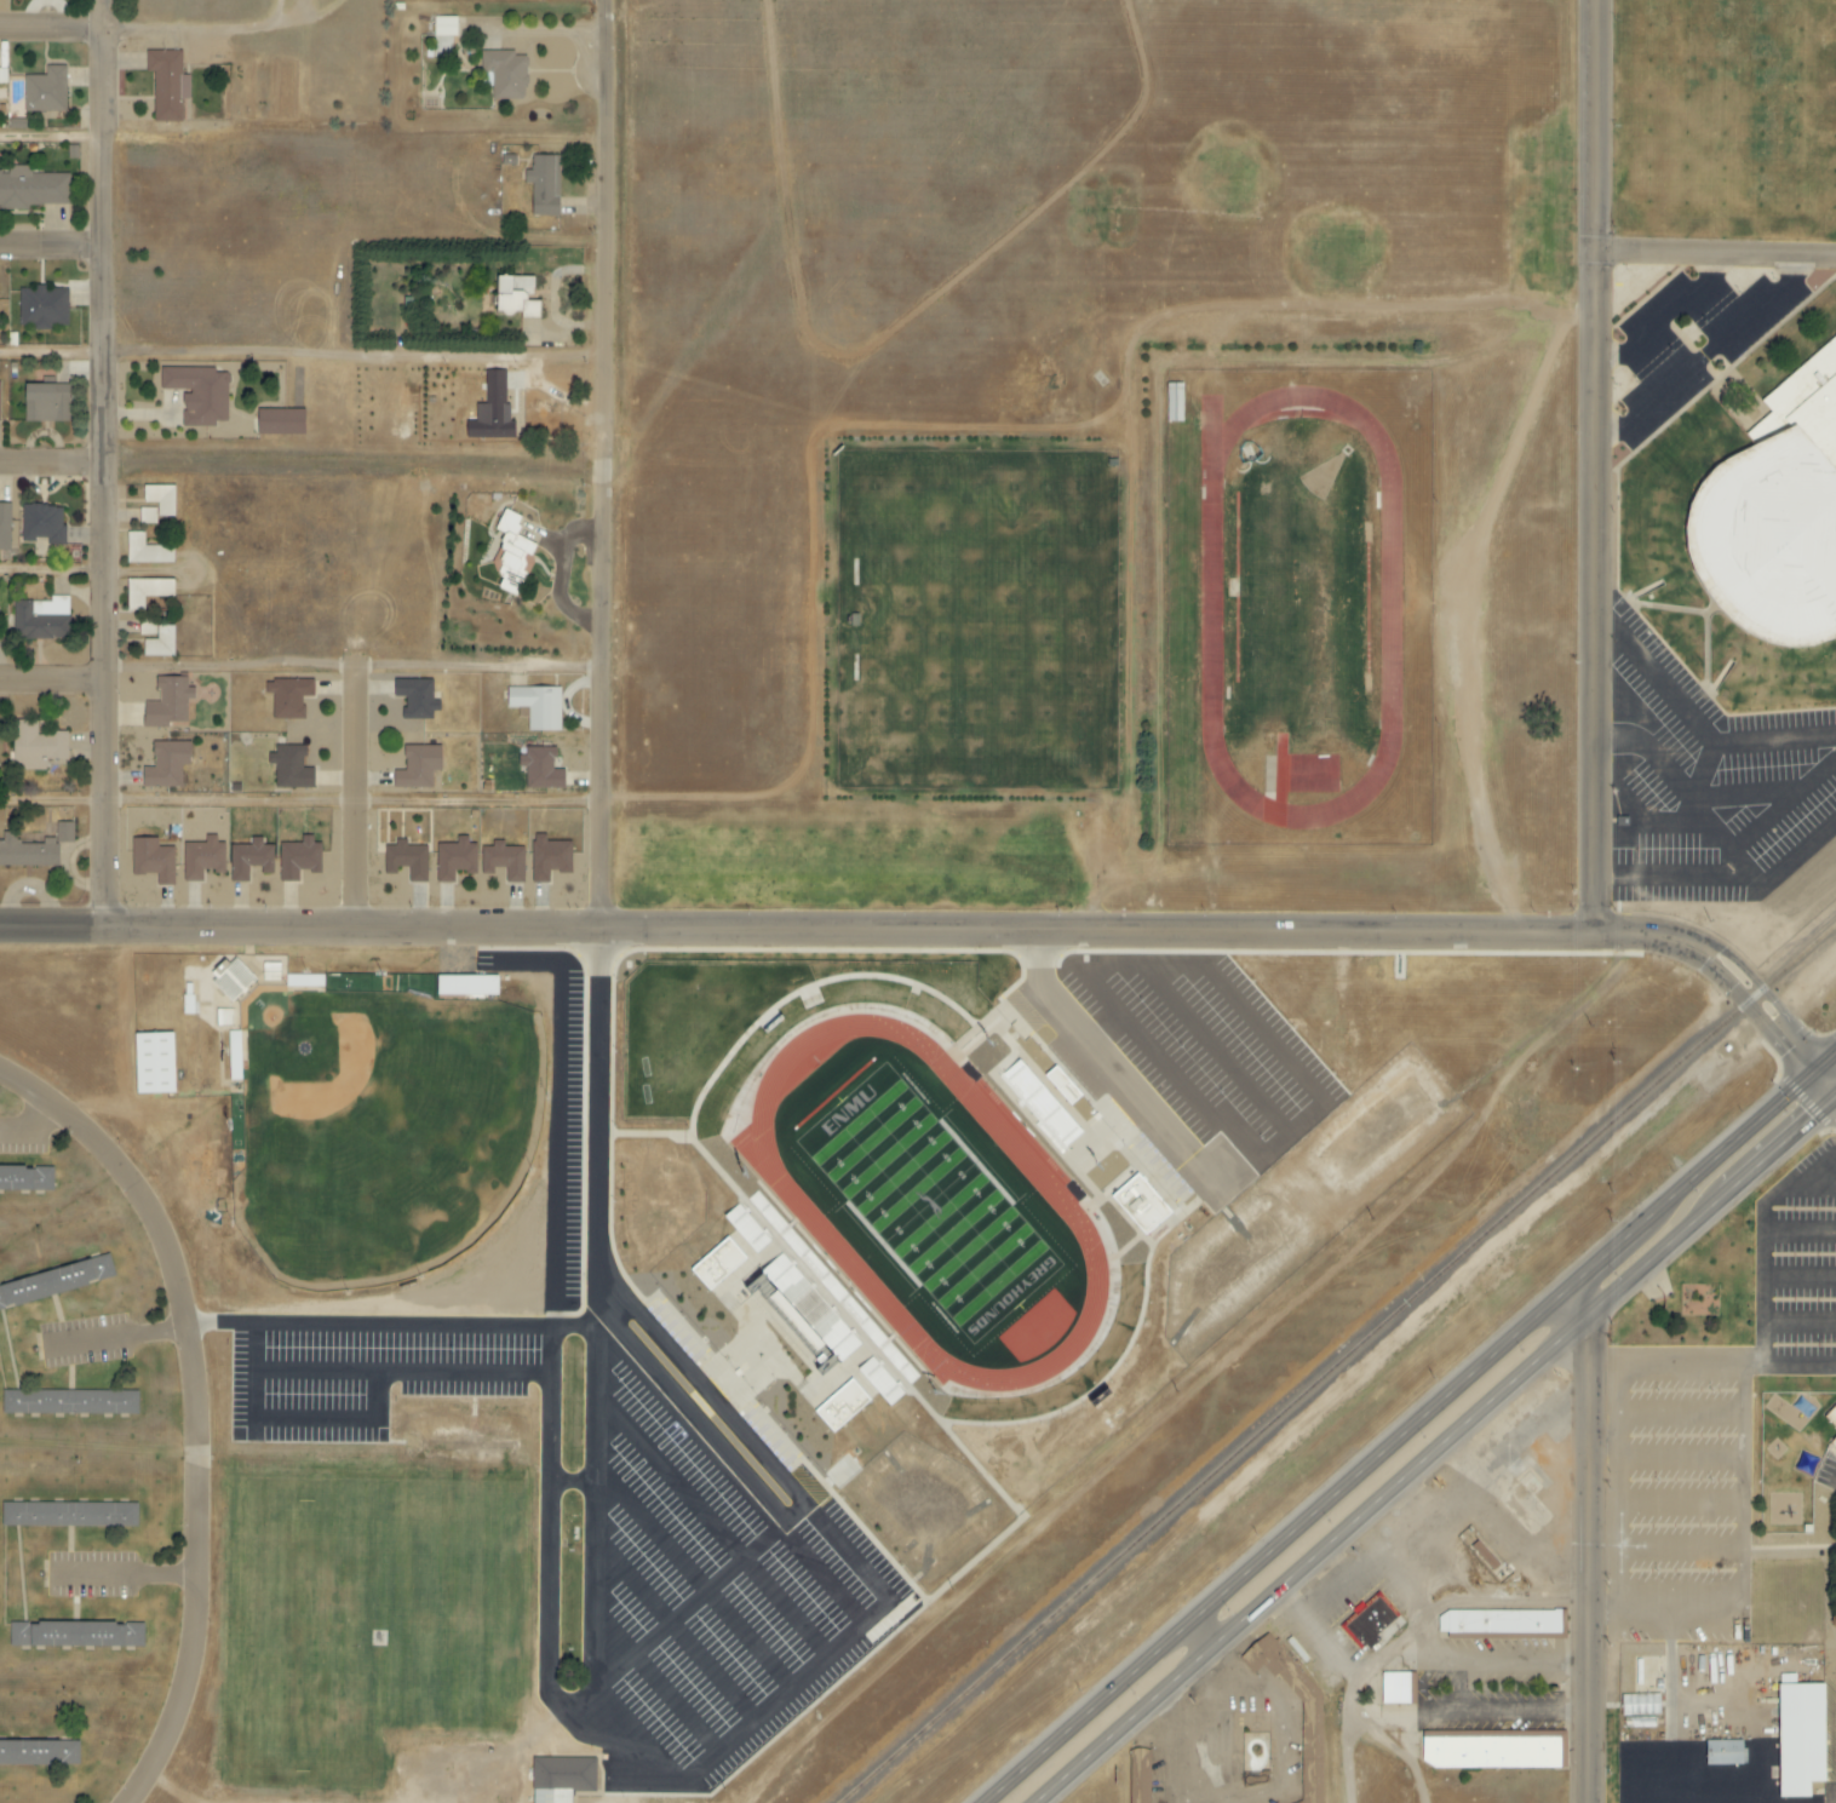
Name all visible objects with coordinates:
building: (444, 27)
road: (208, 29)
road: (54, 31)
building: (505, 74)
building: (167, 84)
building: (45, 90)
road: (54, 139)
building: (544, 185)
building: (33, 188)
road: (54, 249)
road: (1715, 254)
building: (513, 297)
building: (44, 308)
parking lot: (1688, 334)
road: (1704, 352)
road: (362, 357)
road: (54, 358)
building: (199, 394)
building: (45, 403)
building: (1174, 403)
building: (492, 410)
building: (279, 423)
road: (360, 460)
road: (54, 463)
road: (109, 464)
road: (610, 465)
road: (1594, 466)
building: (160, 499)
building: (1777, 517)
stadium: (1777, 517)
building: (42, 524)
building: (5, 527)
building: (512, 547)
building: (145, 551)
road: (54, 576)
building: (147, 591)
track: (1293, 602)
park: (977, 616)
building: (160, 643)
road: (357, 667)
road: (54, 677)
building: (287, 697)
building: (417, 699)
building: (167, 702)
building: (537, 707)
building: (35, 746)
building: (166, 764)
building: (289, 768)
building: (418, 768)
building: (540, 769)
road: (361, 797)
road: (358, 799)
road: (56, 803)
parking lot: (1716, 803)
building: (63, 832)
building: (27, 852)
building: (202, 859)
building: (298, 859)
building: (549, 859)
building: (249, 860)
building: (406, 860)
building: (454, 860)
building: (153, 861)
building: (503, 861)
road: (832, 931)
railway: (1789, 963)
building: (234, 980)
building: (304, 981)
road: (1756, 982)
building: (465, 984)
road: (1740, 1003)
parking lot: (1207, 1049)
building: (151, 1062)
traffic signals: (1817, 1072)
road: (1825, 1084)
building: (1061, 1085)
traffic signals: (1835, 1096)
building: (1039, 1104)
road: (31, 1120)
park: (380, 1131)
building: (25, 1178)
park: (929, 1204)
building: (1140, 1204)
track: (805, 1213)
road: (1798, 1231)
road: (1761, 1245)
building: (716, 1263)
road: (1798, 1274)
building: (56, 1280)
building: (825, 1303)
building: (0, 1307)
road: (1798, 1321)
building: (790, 1323)
road: (373, 1326)
road: (121, 1337)
parking lot: (362, 1379)
road: (1618, 1383)
road: (665, 1385)
road: (202, 1401)
building: (69, 1402)
railway: (1291, 1403)
building: (839, 1405)
road: (1681, 1417)
building: (1832, 1417)
road: (1411, 1425)
parking lot: (1712, 1430)
building: (1834, 1443)
road: (1435, 1449)
road: (1681, 1460)
road: (572, 1480)
road: (1680, 1503)
building: (69, 1514)
road: (711, 1523)
road: (1587, 1541)
road: (1680, 1552)
road: (850, 1558)
road: (1743, 1569)
road: (693, 1573)
road: (131, 1575)
parking lot: (702, 1594)
road: (842, 1604)
road: (683, 1608)
building: (1369, 1623)
building: (1499, 1625)
road: (673, 1626)
building: (75, 1635)
road: (655, 1681)
road: (1788, 1683)
building: (1395, 1688)
road: (1664, 1699)
road: (560, 1705)
building: (1640, 1711)
road: (1276, 1712)
building: (1800, 1739)
road: (1172, 1747)
building: (1490, 1752)
building: (27, 1753)
building: (1312, 1753)
building: (1722, 1753)
road: (1410, 1759)
building: (1138, 1775)
building: (561, 1779)

